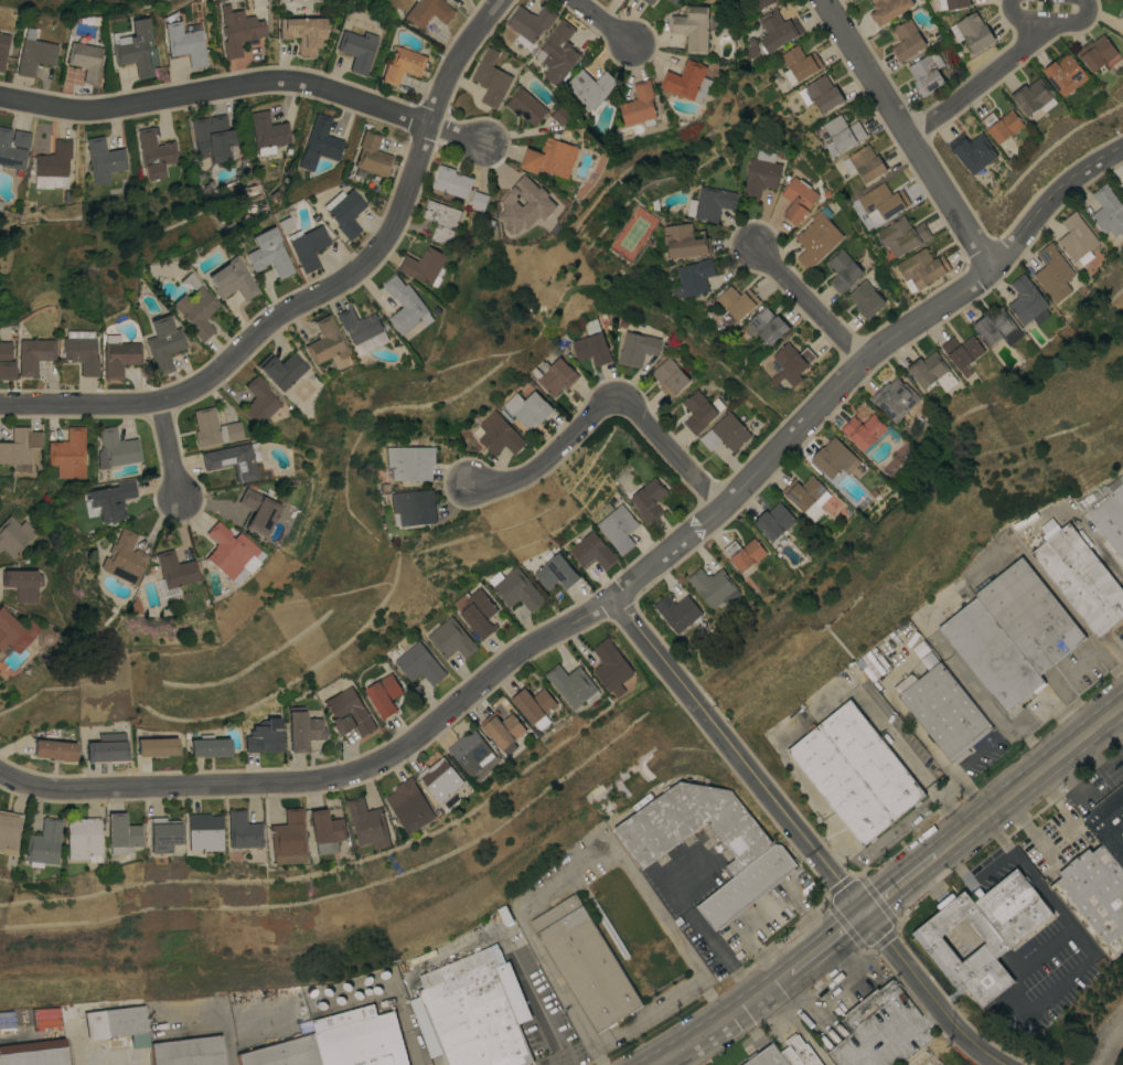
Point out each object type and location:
park: (379, 1)
building: (648, 1)
building: (673, 1)
building: (760, 2)
building: (951, 3)
building: (887, 9)
building: (427, 11)
building: (1121, 12)
road: (1019, 14)
road: (1071, 21)
building: (530, 22)
road: (602, 22)
building: (692, 26)
building: (238, 29)
building: (777, 29)
building: (972, 31)
building: (302, 32)
building: (906, 39)
building: (185, 42)
building: (3, 47)
building: (136, 47)
building: (750, 47)
building: (357, 49)
building: (557, 52)
building: (1095, 52)
building: (34, 55)
road: (456, 57)
building: (85, 60)
building: (799, 63)
building: (402, 64)
building: (926, 72)
building: (1065, 74)
building: (490, 77)
building: (687, 81)
road: (978, 82)
building: (589, 87)
road: (216, 88)
building: (821, 93)
building: (1033, 96)
building: (640, 104)
building: (526, 106)
building: (560, 114)
building: (1001, 124)
building: (267, 132)
road: (457, 132)
building: (842, 134)
road: (907, 134)
building: (210, 137)
building: (319, 142)
building: (13, 148)
building: (972, 150)
building: (154, 153)
building: (371, 156)
building: (549, 157)
building: (104, 159)
building: (864, 162)
building: (53, 164)
building: (760, 173)
building: (450, 181)
building: (798, 199)
road: (1049, 199)
building: (478, 200)
building: (523, 200)
building: (709, 202)
building: (881, 202)
building: (1106, 209)
building: (343, 211)
building: (441, 220)
building: (282, 223)
building: (901, 234)
building: (816, 237)
building: (1077, 238)
building: (684, 239)
building: (307, 245)
building: (267, 252)
building: (424, 265)
building: (920, 268)
building: (842, 269)
building: (1052, 271)
building: (693, 277)
building: (229, 278)
building: (865, 298)
building: (737, 301)
building: (1026, 301)
road: (809, 303)
building: (405, 305)
building: (194, 307)
building: (766, 324)
building: (996, 327)
building: (362, 329)
road: (258, 332)
building: (324, 340)
building: (163, 342)
building: (591, 343)
building: (635, 347)
building: (81, 350)
building: (961, 352)
building: (33, 353)
building: (118, 354)
building: (6, 361)
building: (791, 362)
building: (280, 369)
building: (930, 371)
building: (553, 374)
building: (669, 376)
building: (894, 397)
building: (258, 401)
road: (605, 406)
building: (527, 407)
building: (698, 409)
building: (213, 427)
road: (798, 429)
building: (862, 429)
building: (499, 433)
building: (724, 433)
building: (19, 447)
building: (115, 448)
road: (171, 450)
building: (67, 454)
building: (833, 457)
building: (234, 459)
building: (411, 461)
building: (802, 491)
building: (648, 498)
building: (109, 499)
building: (413, 507)
building: (257, 511)
building: (1106, 511)
building: (773, 520)
building: (617, 528)
building: (14, 534)
building: (228, 551)
building: (591, 551)
building: (742, 553)
building: (121, 557)
road: (1111, 566)
building: (174, 568)
building: (555, 572)
building: (1079, 577)
building: (22, 583)
building: (713, 586)
building: (514, 588)
building: (475, 611)
building: (676, 611)
building: (1028, 615)
building: (15, 632)
building: (451, 640)
building: (990, 653)
building: (420, 664)
building: (611, 668)
building: (574, 686)
building: (385, 696)
building: (534, 706)
building: (942, 711)
building: (349, 714)
building: (304, 731)
building: (504, 731)
building: (267, 737)
building: (159, 747)
building: (212, 747)
building: (109, 748)
building: (56, 750)
building: (472, 754)
road: (1062, 754)
building: (870, 760)
road: (331, 778)
building: (441, 779)
building: (838, 786)
building: (410, 807)
road: (994, 810)
building: (1109, 822)
building: (368, 824)
building: (692, 824)
road: (1071, 824)
building: (245, 831)
building: (327, 832)
road: (995, 832)
building: (10, 833)
building: (206, 833)
building: (165, 834)
road: (964, 834)
road: (1029, 834)
building: (124, 835)
road: (800, 837)
building: (289, 839)
building: (86, 840)
building: (46, 844)
road: (939, 854)
road: (973, 872)
road: (564, 874)
building: (746, 886)
road: (898, 886)
building: (1094, 896)
road: (1047, 901)
building: (1010, 907)
traffic signals: (863, 915)
road: (697, 920)
building: (609, 929)
road: (511, 949)
building: (986, 952)
road: (809, 957)
building: (586, 963)
road: (712, 1000)
road: (740, 1009)
building: (473, 1013)
road: (645, 1014)
road: (213, 1021)
building: (120, 1024)
building: (880, 1030)
road: (702, 1035)
building: (339, 1043)
building: (190, 1052)
building: (798, 1052)
building: (35, 1053)
road: (597, 1056)
building: (766, 1057)
road: (666, 1058)
road: (554, 1061)
road: (566, 1061)
building: (0, 1062)

